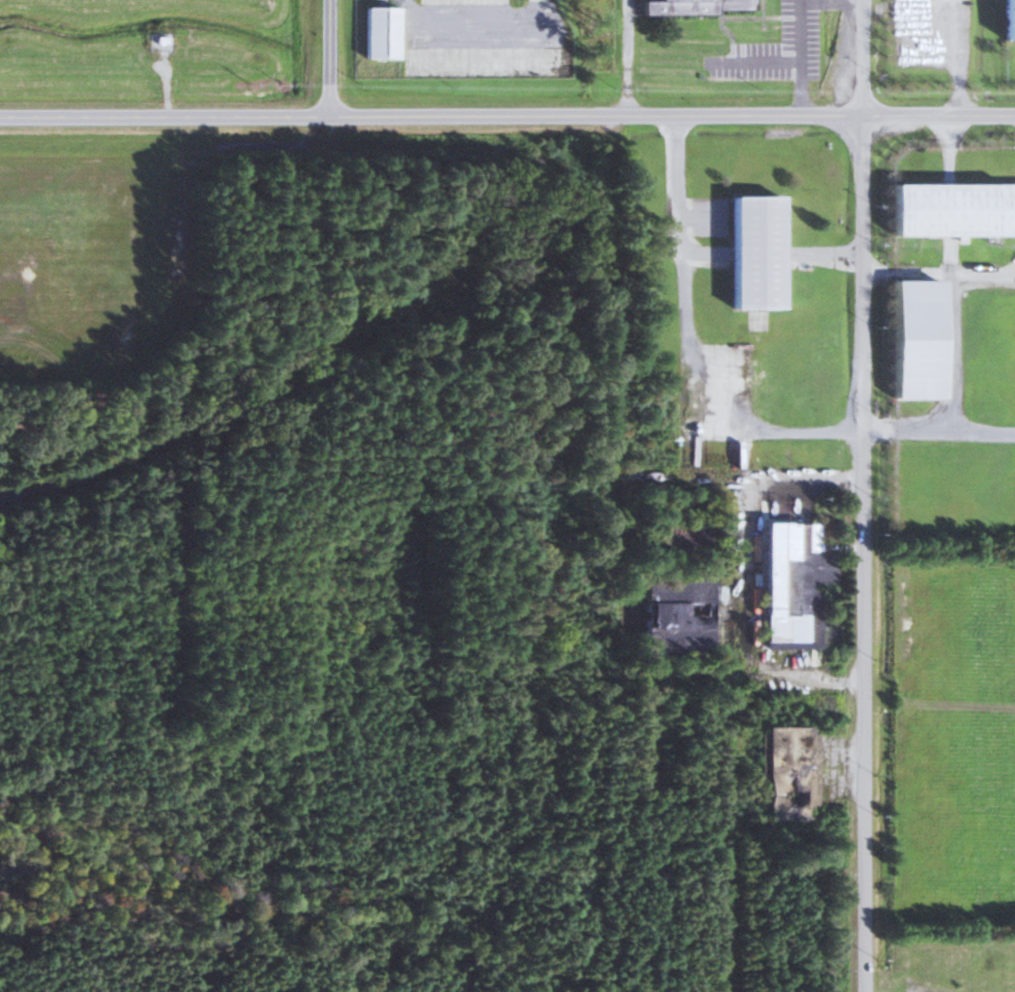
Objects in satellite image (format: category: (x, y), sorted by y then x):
building: (688, 7)
building: (1008, 20)
road: (477, 25)
building: (377, 33)
airport: (160, 40)
road: (951, 54)
road: (861, 56)
road: (802, 57)
road: (330, 58)
road: (627, 58)
road: (762, 63)
road: (938, 113)
road: (431, 116)
building: (951, 208)
building: (753, 251)
road: (938, 274)
building: (913, 338)
road: (685, 348)
road: (945, 353)
road: (613, 397)
road: (938, 431)
road: (738, 479)
building: (681, 537)
road: (862, 553)
building: (791, 583)
building: (672, 615)
road: (739, 683)
building: (786, 772)

